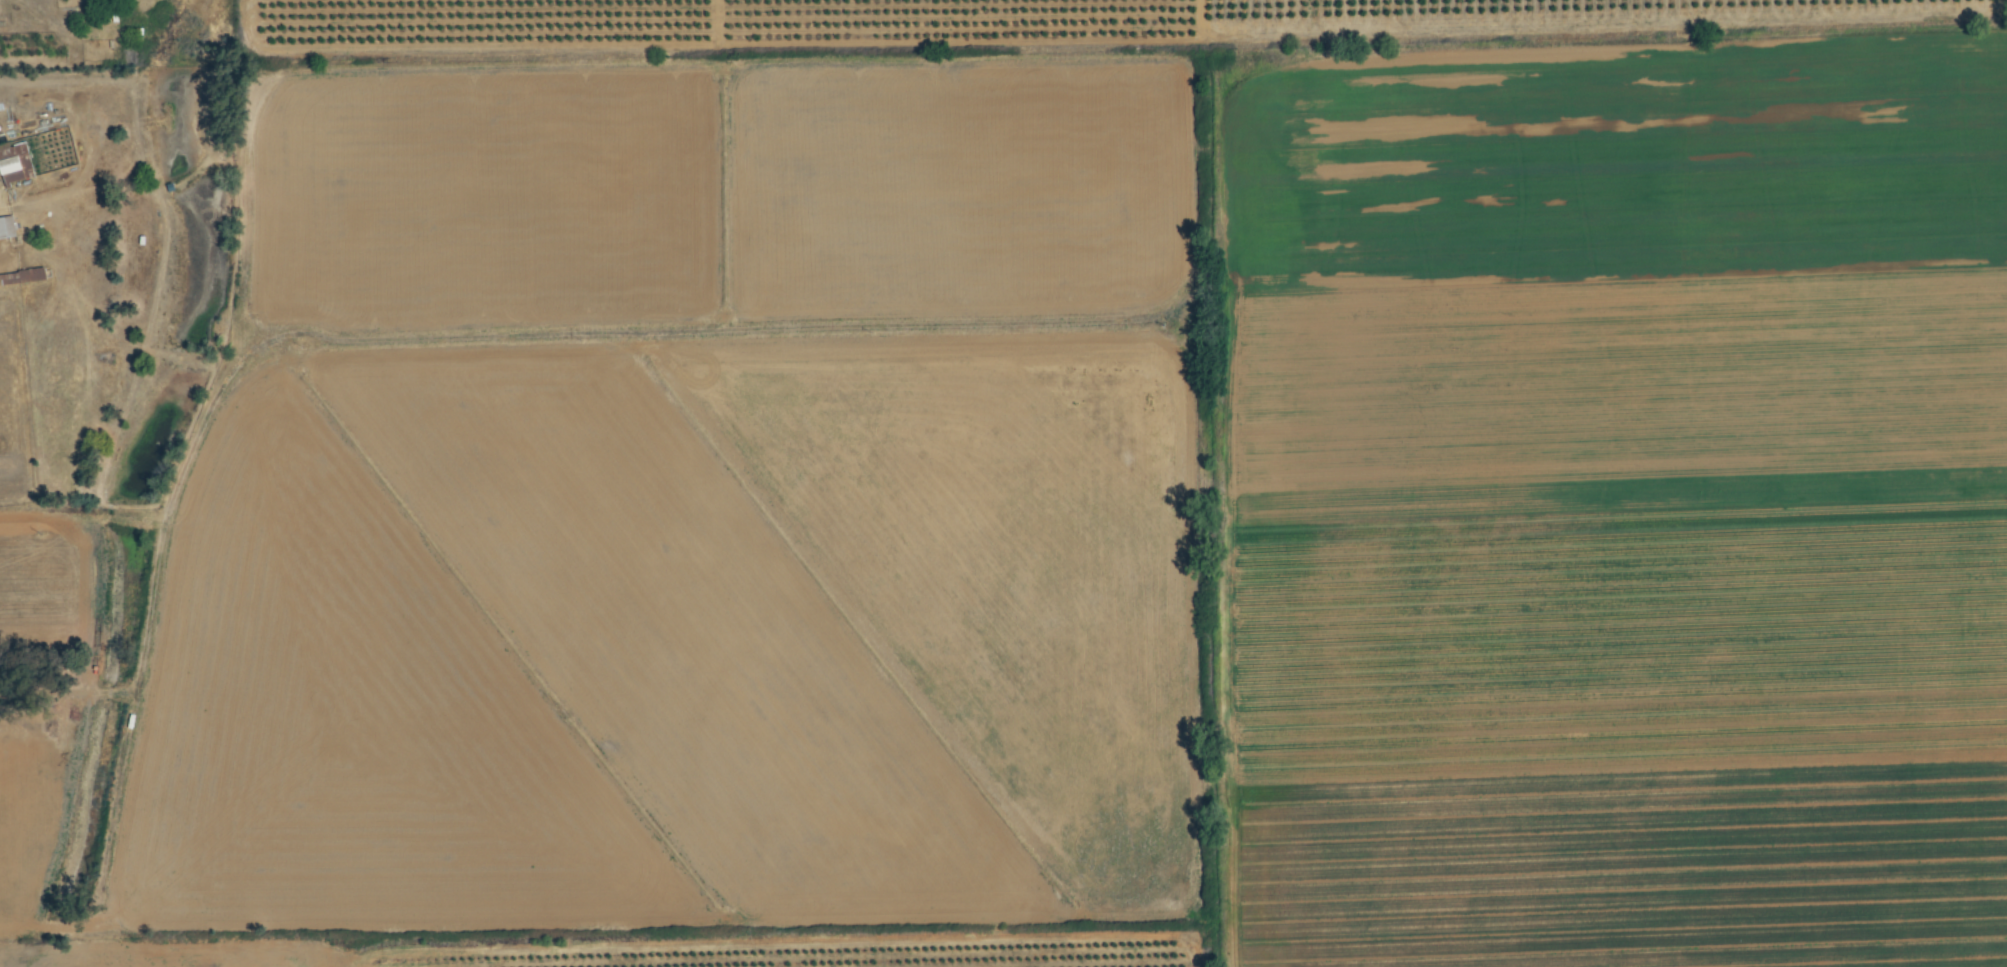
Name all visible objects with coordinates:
building: (14, 167)
building: (5, 226)
building: (21, 278)

